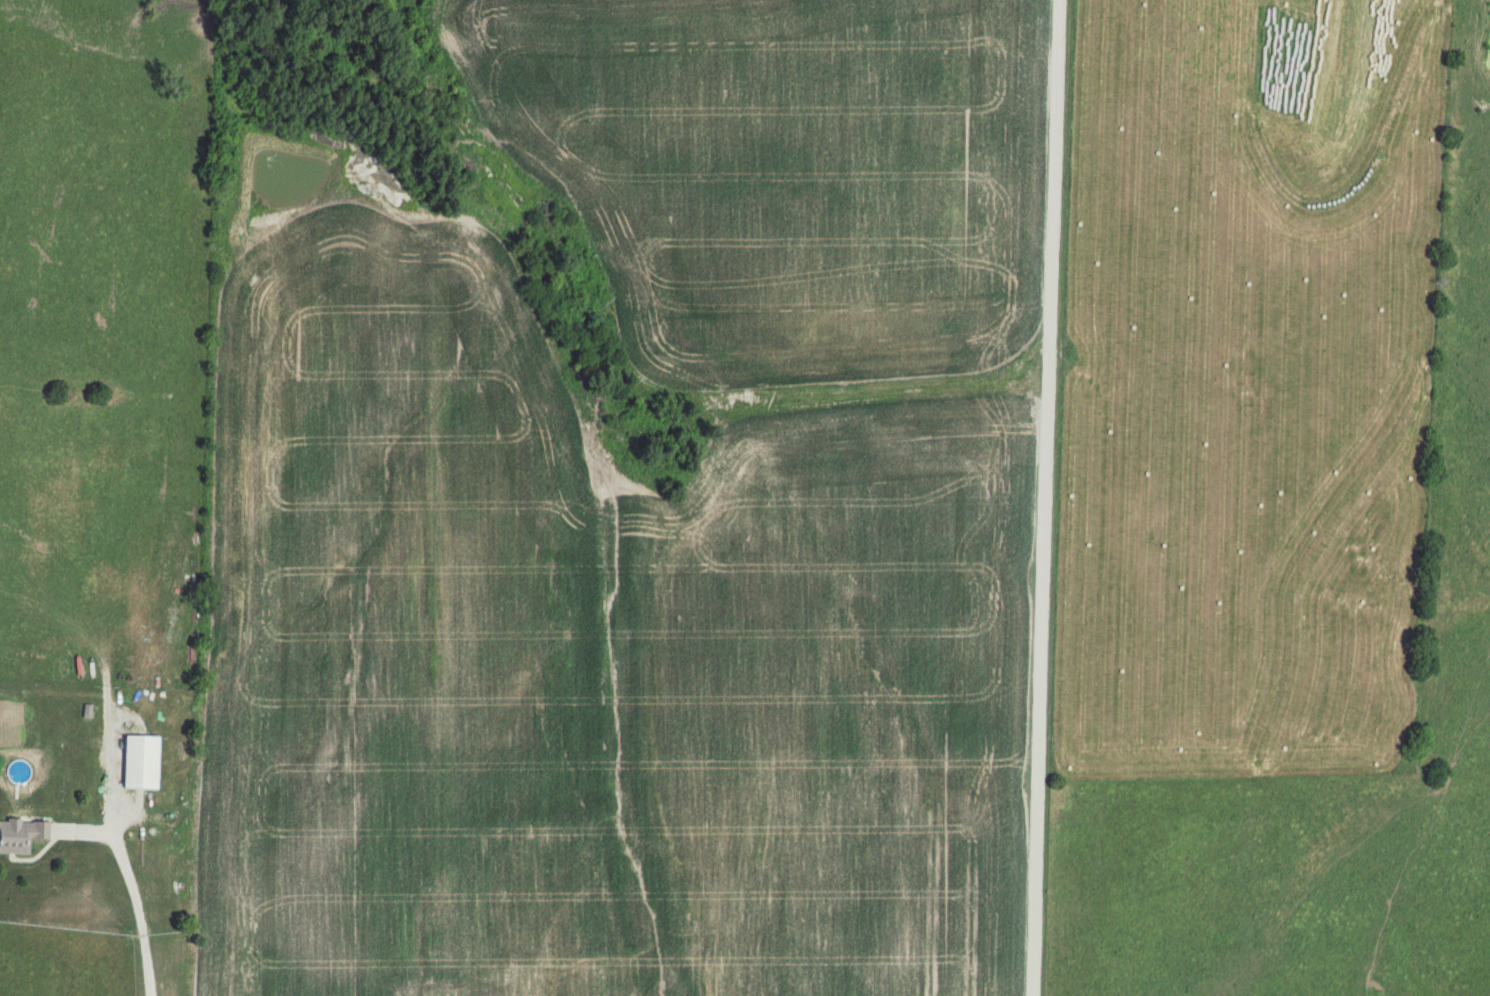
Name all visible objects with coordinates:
road: (1043, 497)
building: (21, 835)
road: (138, 912)

